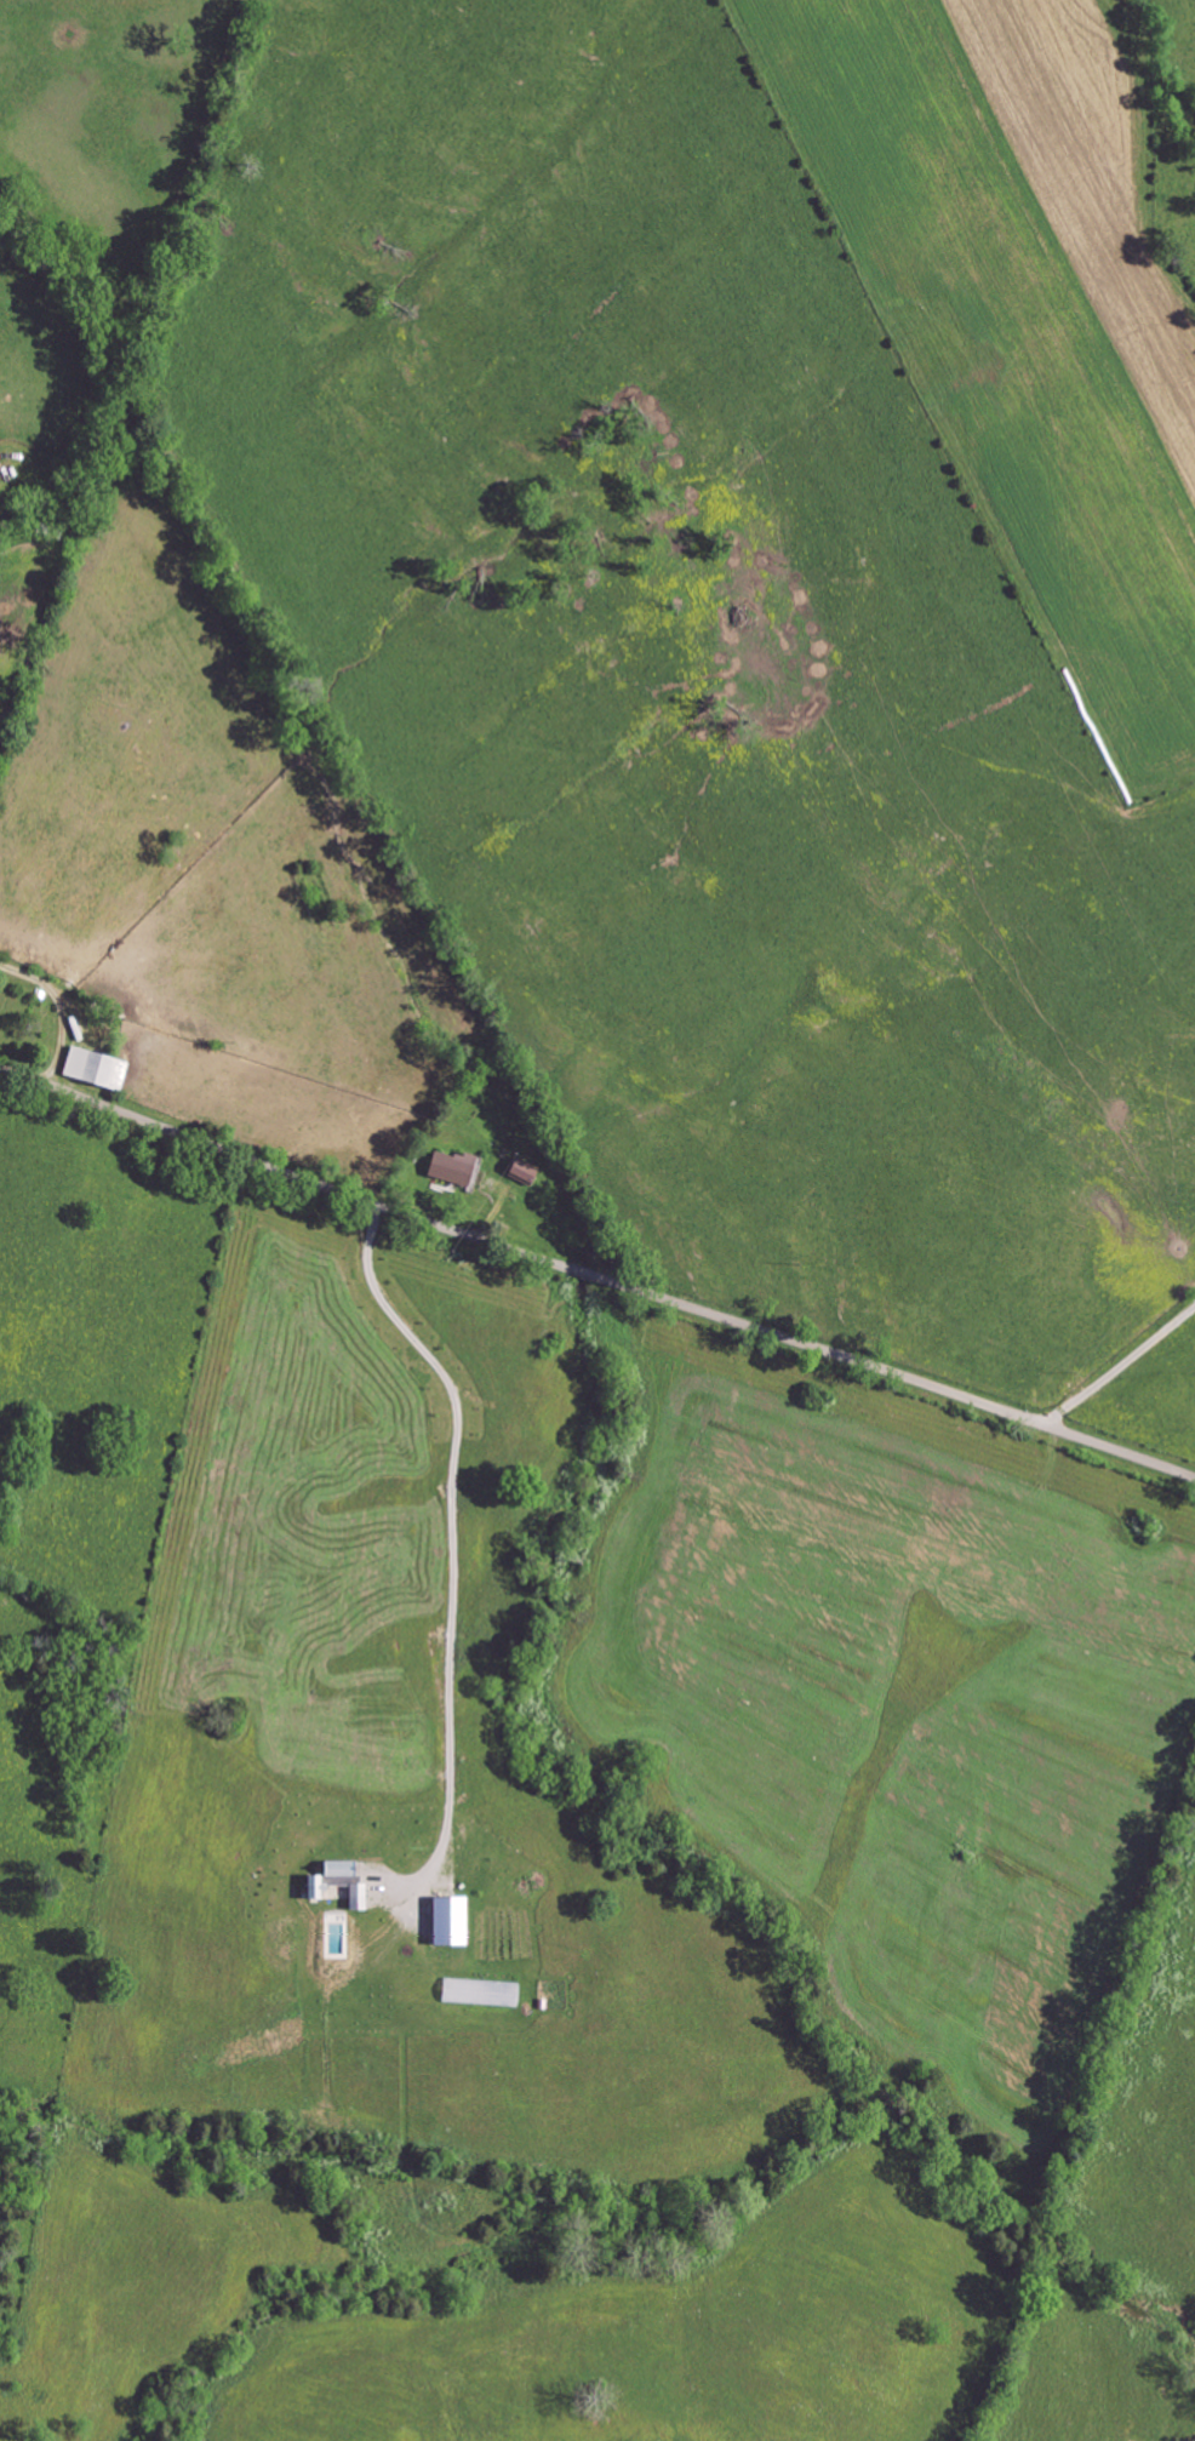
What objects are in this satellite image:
building: (93, 1070)
building: (448, 1167)
building: (520, 1172)
road: (596, 1274)
road: (1117, 1365)
road: (452, 1549)
building: (343, 1881)
building: (310, 1887)
building: (445, 1921)
building: (480, 1994)

